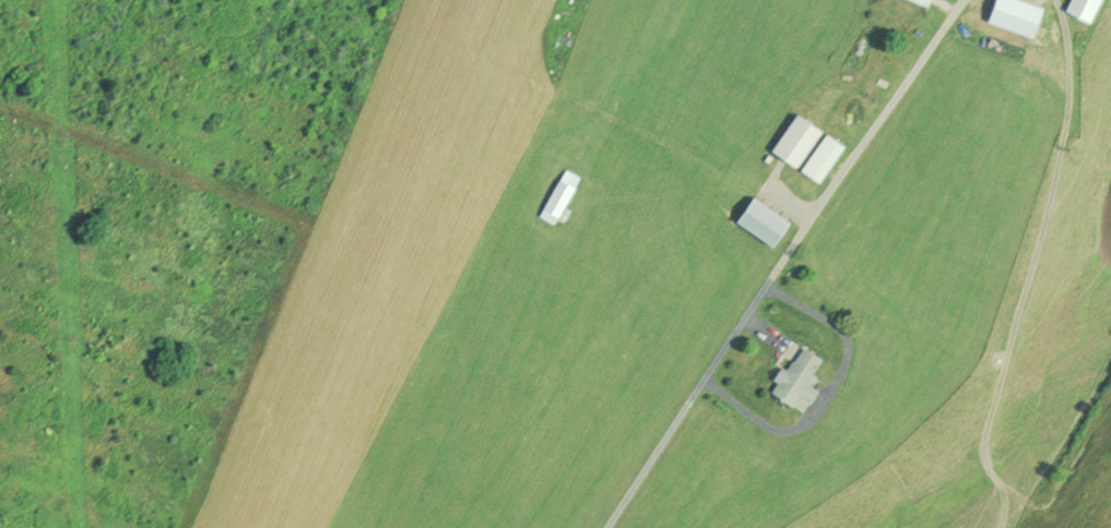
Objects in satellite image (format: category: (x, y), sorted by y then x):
building: (1088, 9)
building: (795, 139)
building: (824, 157)
building: (559, 195)
building: (765, 220)
road: (743, 257)
building: (799, 376)

